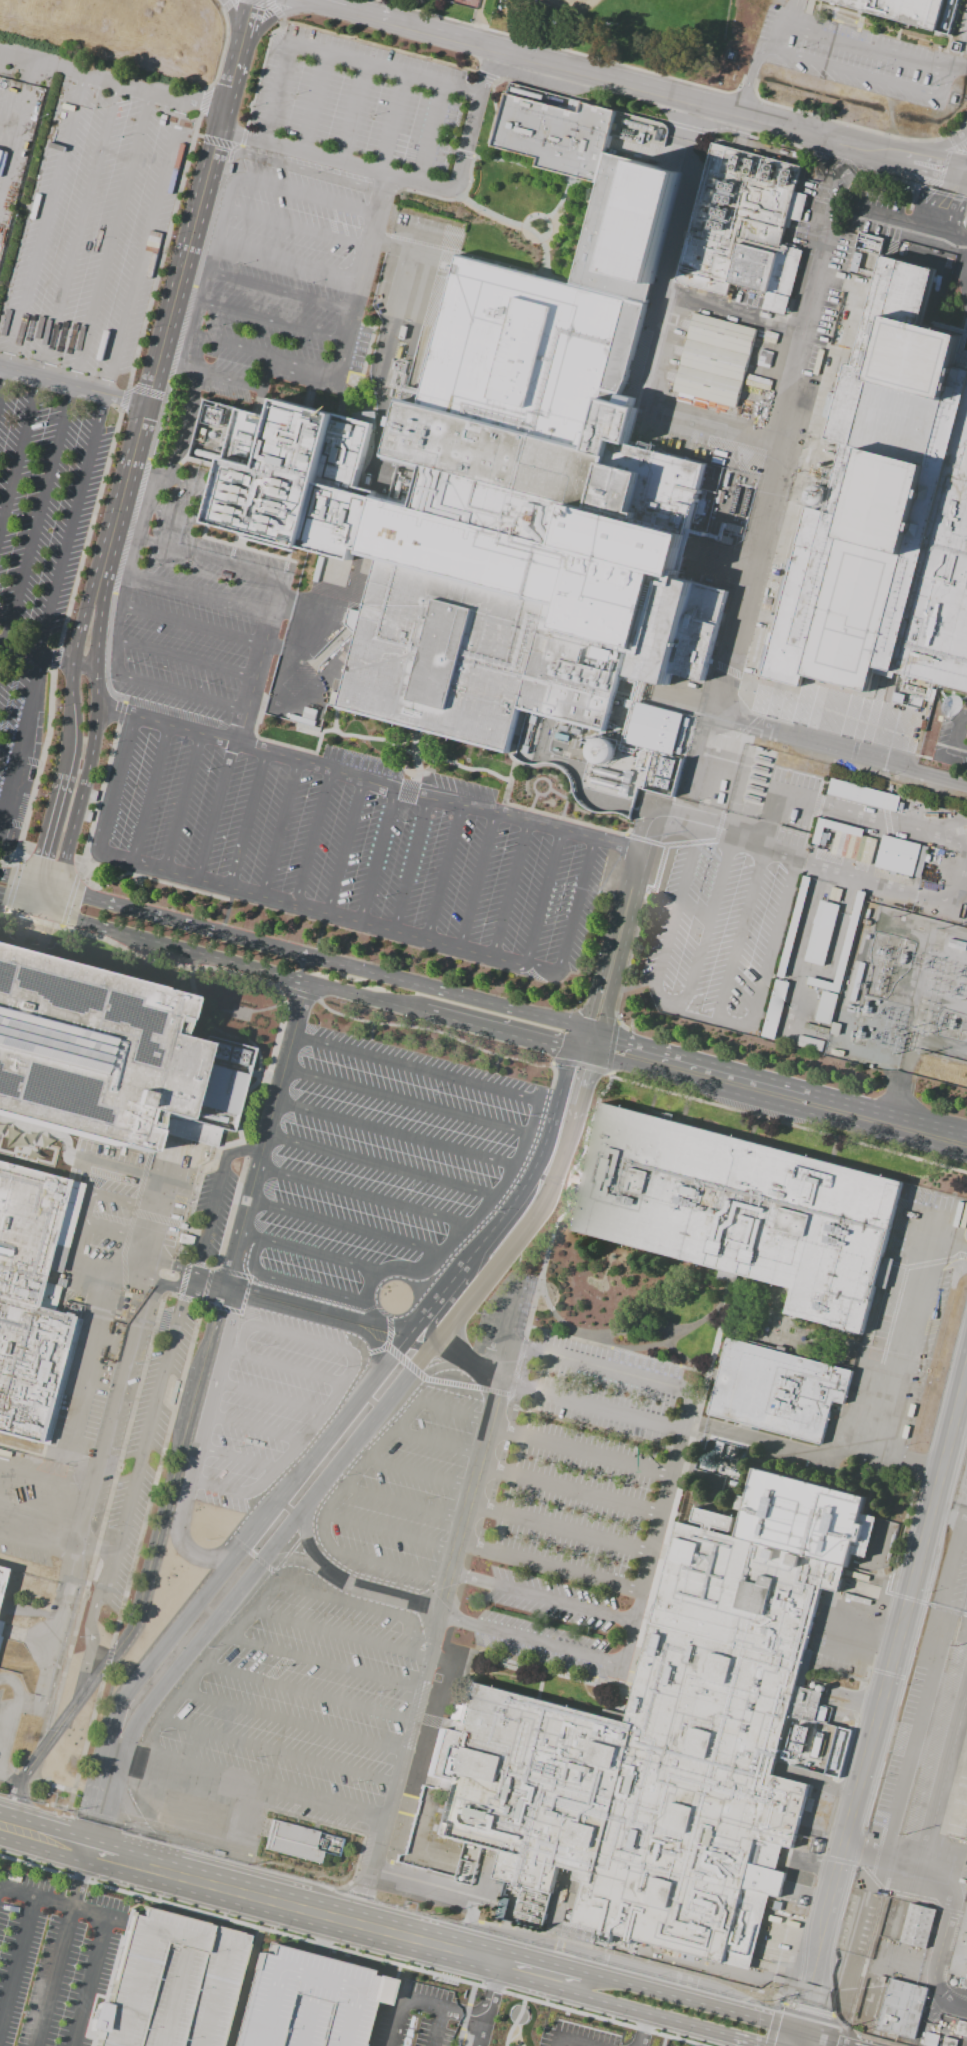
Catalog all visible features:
park: (466, 0)
road: (328, 4)
road: (795, 6)
building: (904, 11)
road: (366, 14)
road: (276, 16)
road: (232, 18)
road: (780, 26)
road: (440, 34)
road: (243, 36)
road: (863, 49)
road: (956, 68)
road: (384, 70)
road: (853, 71)
road: (750, 75)
road: (112, 80)
road: (943, 85)
road: (228, 91)
road: (276, 93)
road: (699, 102)
road: (313, 103)
road: (353, 114)
road: (473, 121)
road: (391, 124)
road: (430, 135)
road: (938, 147)
road: (333, 161)
road: (936, 164)
road: (928, 187)
parking lot: (316, 193)
road: (305, 196)
road: (955, 208)
road: (896, 217)
building: (743, 224)
road: (297, 229)
road: (42, 233)
road: (961, 236)
road: (400, 251)
road: (288, 261)
road: (207, 274)
road: (361, 277)
road: (670, 286)
road: (280, 291)
road: (58, 304)
road: (272, 323)
road: (234, 345)
road: (160, 350)
parking lot: (70, 352)
road: (386, 358)
building: (717, 361)
road: (302, 370)
road: (75, 374)
road: (110, 375)
road: (267, 376)
road: (230, 380)
road: (72, 384)
building: (409, 395)
building: (361, 415)
road: (184, 427)
road: (716, 429)
building: (503, 480)
road: (764, 480)
road: (205, 504)
building: (890, 507)
road: (209, 559)
road: (128, 570)
road: (200, 593)
road: (78, 624)
road: (192, 624)
road: (96, 647)
road: (34, 652)
road: (185, 659)
road: (259, 660)
road: (70, 682)
road: (179, 692)
road: (964, 717)
building: (826, 719)
road: (954, 731)
road: (70, 739)
road: (21, 743)
road: (836, 747)
parking lot: (962, 750)
road: (958, 751)
parking lot: (308, 778)
road: (367, 779)
road: (114, 786)
road: (148, 794)
building: (863, 795)
road: (181, 803)
road: (76, 810)
road: (844, 810)
road: (214, 811)
road: (247, 820)
road: (712, 826)
road: (280, 828)
road: (312, 837)
building: (837, 838)
road: (45, 841)
road: (343, 846)
road: (377, 856)
building: (902, 858)
road: (410, 864)
road: (443, 873)
road: (960, 874)
road: (876, 878)
road: (476, 881)
road: (509, 889)
road: (541, 898)
road: (675, 903)
road: (110, 904)
road: (23, 907)
road: (311, 910)
road: (571, 920)
road: (708, 923)
road: (741, 932)
building: (820, 932)
road: (773, 942)
road: (607, 945)
road: (802, 947)
road: (623, 949)
road: (408, 982)
road: (317, 985)
power substation: (903, 996)
building: (825, 1006)
building: (774, 1009)
road: (694, 1015)
road: (304, 1038)
building: (809, 1043)
building: (91, 1048)
road: (296, 1071)
road: (426, 1071)
road: (778, 1081)
road: (775, 1103)
road: (418, 1104)
road: (287, 1105)
road: (405, 1137)
road: (278, 1138)
road: (246, 1149)
road: (122, 1168)
road: (392, 1169)
road: (268, 1170)
road: (376, 1199)
road: (260, 1204)
road: (85, 1207)
building: (740, 1214)
road: (158, 1219)
road: (208, 1222)
road: (471, 1227)
parking lot: (353, 1231)
road: (359, 1231)
road: (250, 1236)
road: (320, 1256)
road: (72, 1262)
road: (129, 1264)
road: (188, 1269)
road: (292, 1283)
road: (192, 1292)
building: (32, 1300)
road: (507, 1314)
road: (330, 1316)
road: (242, 1338)
road: (305, 1339)
road: (91, 1357)
road: (901, 1362)
road: (283, 1366)
road: (492, 1366)
road: (596, 1367)
road: (434, 1369)
road: (120, 1385)
building: (780, 1392)
road: (269, 1397)
road: (358, 1399)
road: (586, 1404)
road: (383, 1409)
road: (450, 1410)
road: (191, 1420)
road: (486, 1421)
road: (255, 1428)
road: (310, 1429)
road: (498, 1432)
road: (433, 1441)
road: (200, 1447)
road: (787, 1448)
road: (477, 1454)
road: (588, 1455)
road: (238, 1458)
road: (364, 1466)
road: (488, 1469)
road: (416, 1471)
road: (47, 1480)
road: (468, 1485)
parking lot: (962, 1487)
road: (222, 1488)
road: (578, 1494)
parking lot: (577, 1495)
road: (130, 1497)
road: (399, 1501)
road: (477, 1508)
road: (459, 1518)
road: (43, 1519)
road: (87, 1523)
road: (656, 1529)
road: (386, 1532)
road: (567, 1532)
road: (40, 1543)
road: (470, 1547)
road: (99, 1550)
road: (452, 1550)
road: (287, 1559)
road: (377, 1562)
road: (560, 1571)
building: (3, 1578)
road: (473, 1579)
road: (443, 1580)
road: (350, 1584)
road: (361, 1604)
road: (563, 1604)
road: (458, 1619)
road: (440, 1622)
building: (1, 1626)
road: (339, 1632)
parking lot: (332, 1635)
building: (0, 1639)
road: (59, 1644)
road: (548, 1646)
road: (427, 1658)
road: (323, 1660)
road: (191, 1680)
road: (420, 1686)
road: (306, 1691)
road: (880, 1701)
road: (290, 1719)
road: (12, 1720)
road: (412, 1720)
building: (672, 1741)
road: (403, 1749)
road: (273, 1751)
road: (945, 1776)
road: (9, 1777)
road: (394, 1783)
road: (262, 1785)
road: (103, 1796)
road: (384, 1820)
road: (190, 1827)
road: (31, 1831)
road: (76, 1844)
building: (294, 1844)
road: (111, 1853)
road: (386, 1873)
road: (80, 1876)
road: (445, 1889)
road: (245, 1892)
road: (953, 1898)
building: (501, 1908)
road: (90, 1911)
building: (918, 1928)
road: (64, 1939)
road: (452, 1951)
road: (354, 1952)
road: (17, 1959)
parking lot: (110, 1970)
road: (90, 1981)
building: (170, 1982)
parking garage: (170, 1982)
building: (965, 1983)
road: (244, 1987)
road: (486, 1988)
road: (470, 1993)
road: (415, 1999)
building: (307, 2000)
parking garage: (307, 2000)
road: (682, 2000)
building: (900, 2008)
road: (654, 2014)
road: (464, 2015)
road: (513, 2021)
road: (434, 2026)
road: (642, 2029)
road: (475, 2031)
road: (458, 2037)
road: (662, 2040)
road: (814, 2041)
road: (833, 2041)
road: (560, 2043)
road: (570, 2043)

